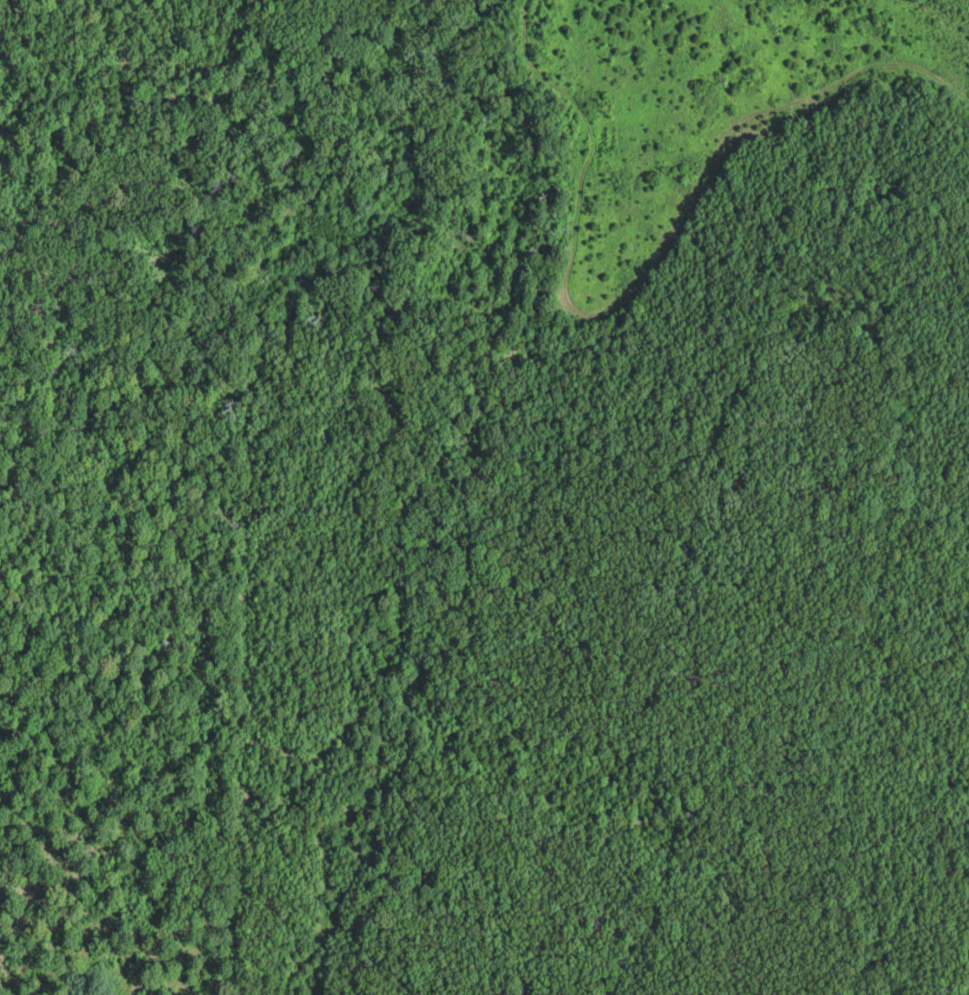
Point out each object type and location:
road: (47, 986)

